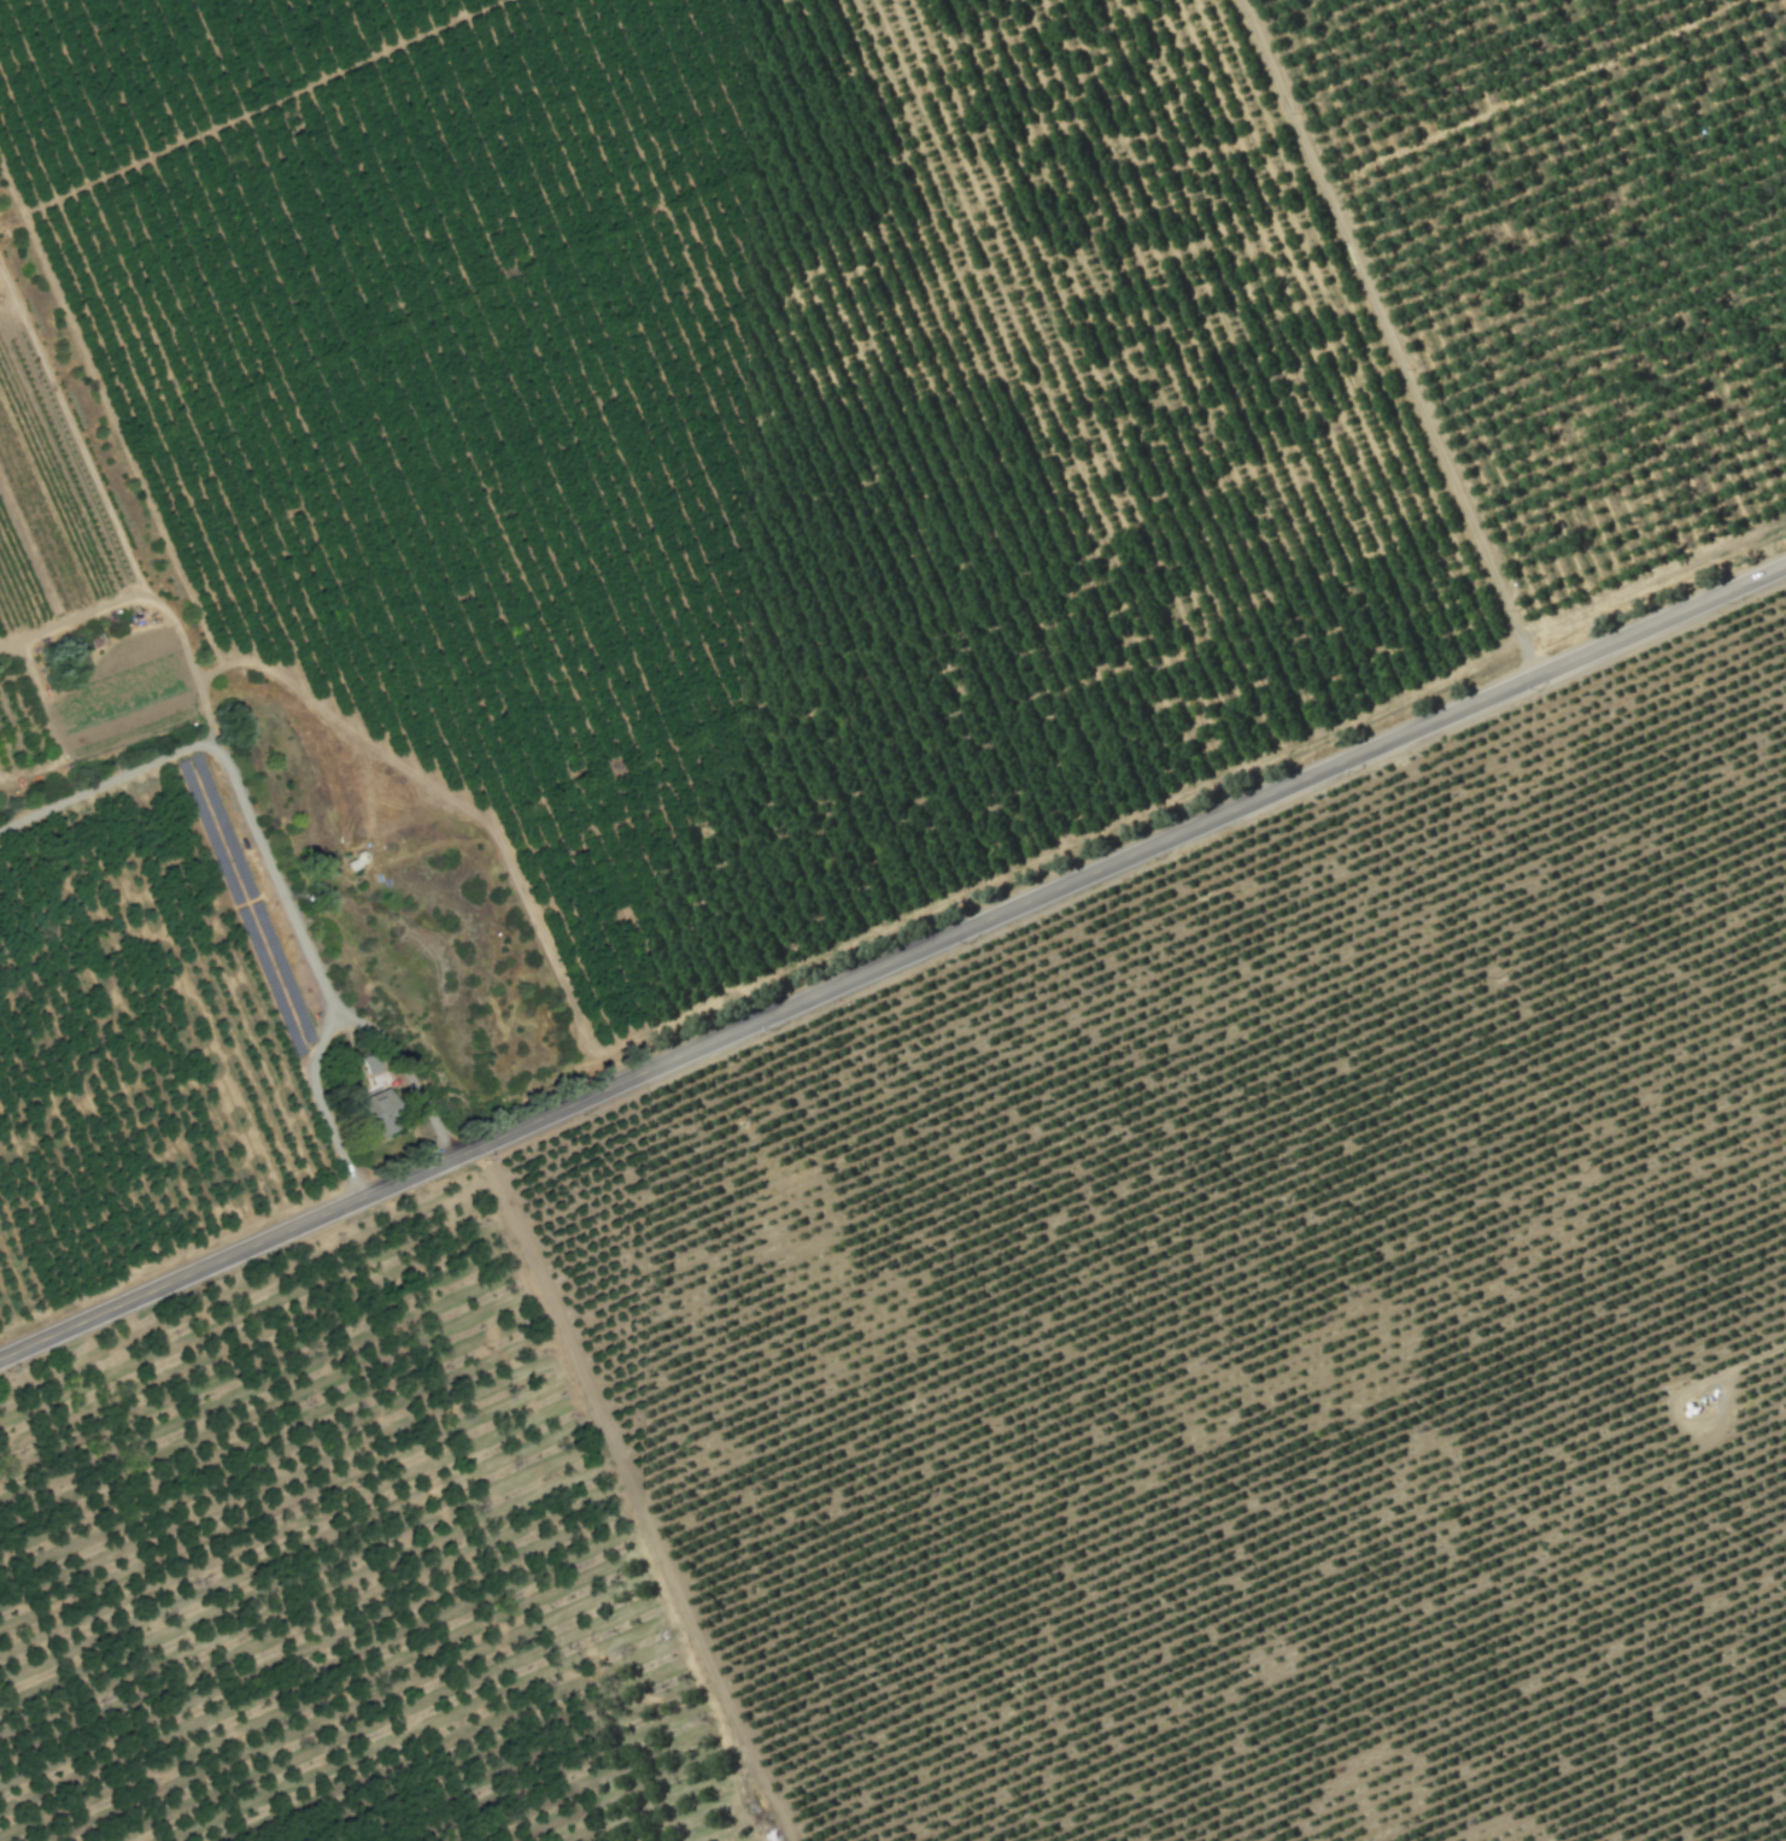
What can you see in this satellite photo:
road: (1388, 341)
road: (72, 432)
road: (153, 602)
road: (270, 858)
road: (891, 966)
road: (320, 1103)
building: (371, 1112)

